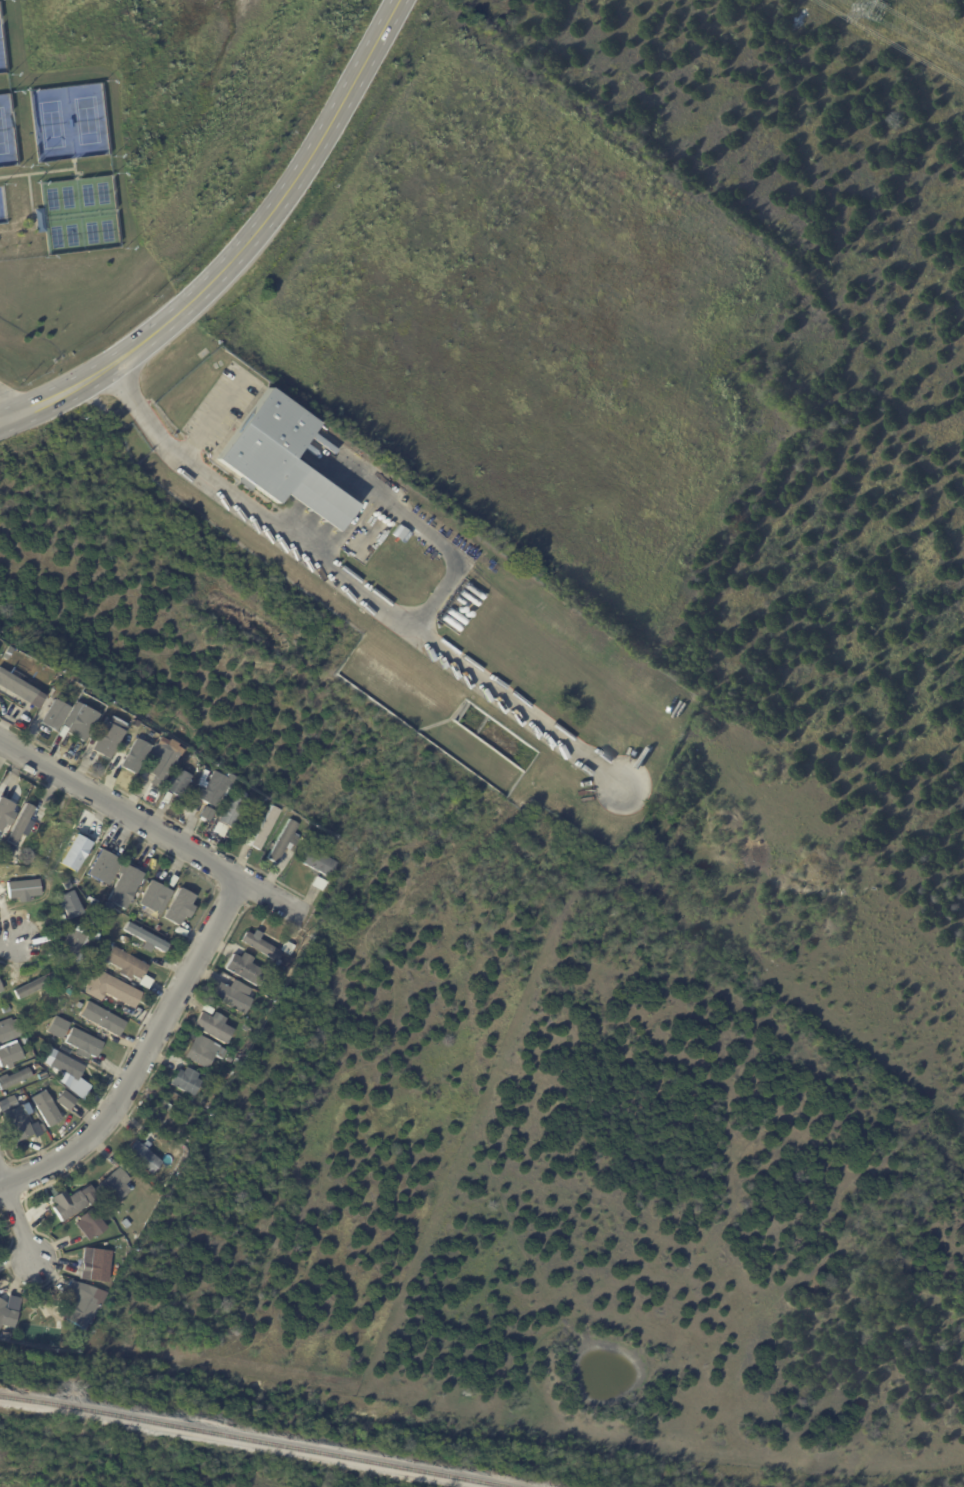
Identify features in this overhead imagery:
power tower: (878, 10)
park: (1, 55)
park: (68, 118)
park: (86, 120)
park: (50, 124)
park: (5, 130)
park: (2, 134)
road: (75, 164)
road: (38, 173)
park: (102, 193)
park: (86, 194)
park: (66, 196)
park: (51, 199)
park: (3, 205)
park: (79, 211)
building: (41, 220)
park: (106, 230)
park: (91, 232)
park: (71, 234)
park: (56, 236)
road: (239, 250)
road: (13, 402)
parking lot: (225, 407)
road: (223, 409)
road: (192, 452)
building: (284, 456)
road: (348, 528)
building: (396, 528)
road: (418, 528)
road: (354, 587)
building: (16, 685)
building: (82, 697)
building: (109, 709)
building: (54, 716)
building: (80, 723)
building: (107, 740)
building: (169, 745)
building: (134, 757)
building: (96, 765)
building: (159, 767)
building: (201, 780)
building: (177, 783)
building: (212, 793)
building: (8, 794)
building: (163, 798)
building: (4, 809)
building: (205, 813)
building: (229, 816)
building: (16, 824)
building: (261, 830)
road: (155, 832)
building: (88, 836)
building: (284, 841)
building: (5, 848)
building: (70, 855)
building: (315, 862)
building: (98, 866)
building: (168, 882)
building: (317, 884)
building: (19, 888)
building: (122, 888)
building: (150, 897)
building: (64, 905)
building: (177, 908)
building: (51, 920)
building: (177, 932)
building: (52, 935)
road: (9, 938)
building: (141, 938)
building: (123, 940)
building: (69, 942)
building: (261, 945)
building: (289, 947)
building: (290, 957)
building: (122, 964)
building: (244, 969)
building: (141, 983)
building: (30, 985)
building: (108, 987)
building: (233, 995)
building: (77, 1006)
building: (3, 1010)
building: (100, 1019)
building: (214, 1026)
building: (3, 1034)
building: (19, 1041)
building: (80, 1044)
building: (8, 1054)
building: (199, 1054)
road: (139, 1055)
building: (235, 1060)
building: (31, 1067)
building: (63, 1067)
building: (12, 1078)
building: (186, 1081)
building: (78, 1087)
building: (63, 1102)
building: (164, 1105)
building: (2, 1106)
building: (44, 1109)
building: (17, 1124)
building: (148, 1153)
building: (169, 1176)
building: (115, 1182)
building: (164, 1189)
building: (70, 1203)
road: (19, 1218)
building: (93, 1222)
building: (97, 1264)
building: (74, 1290)
building: (101, 1294)
building: (80, 1311)
building: (6, 1315)
building: (6, 1337)
railway: (256, 1439)

